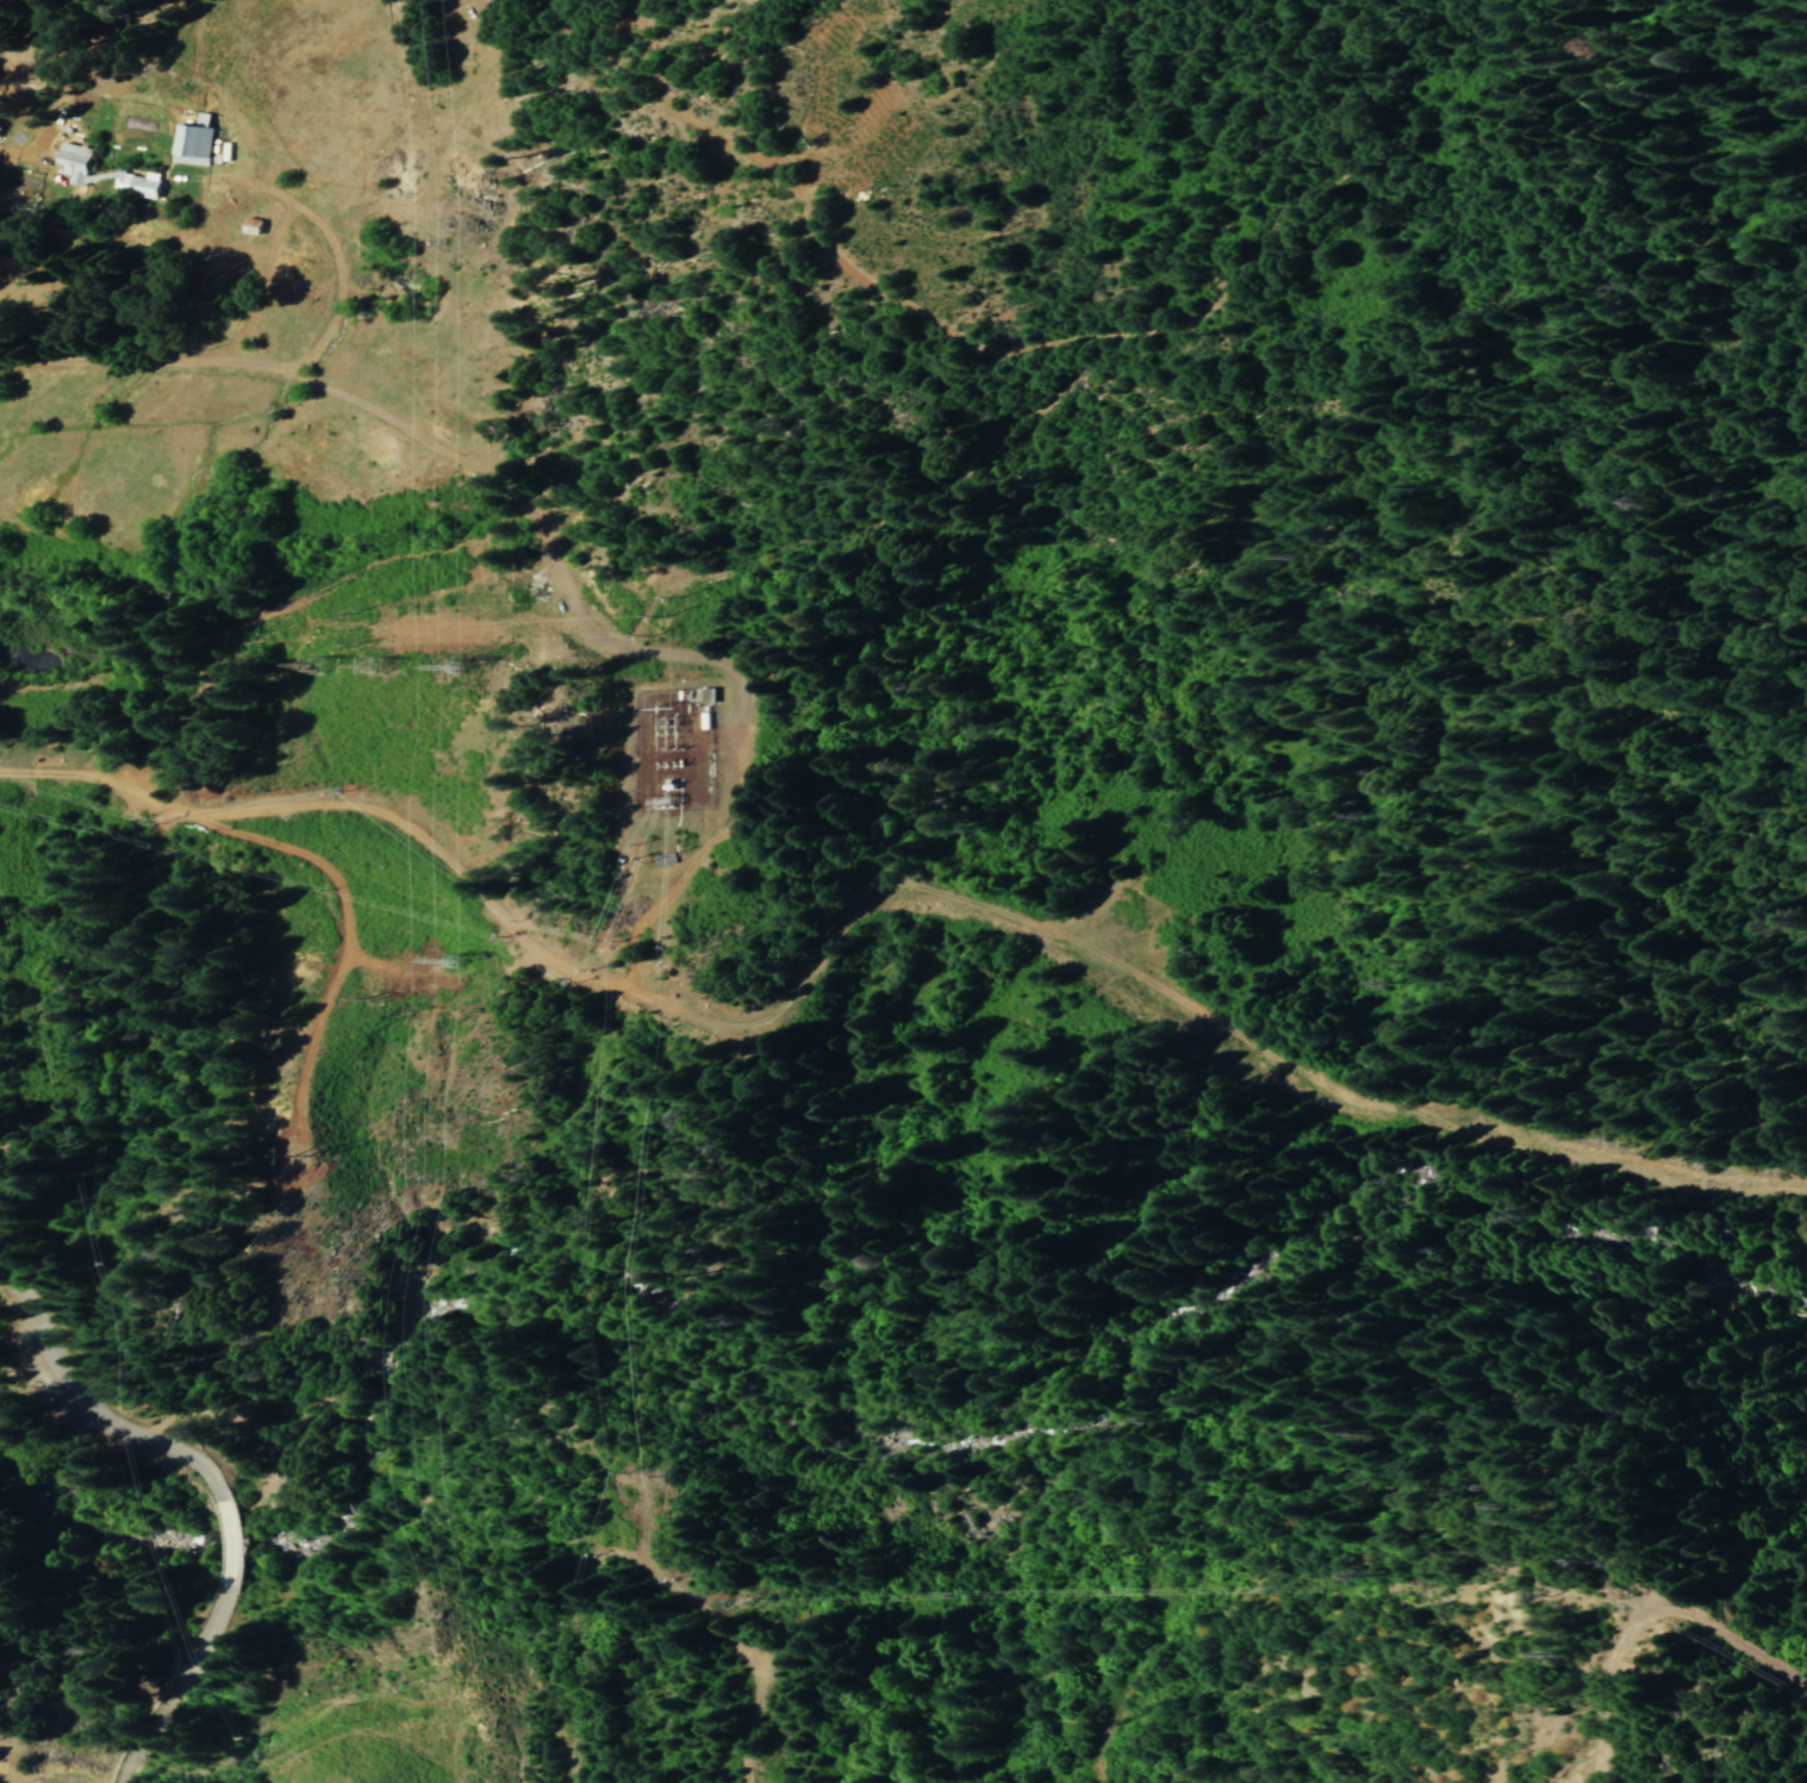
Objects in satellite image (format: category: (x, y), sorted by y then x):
building: (192, 141)
building: (74, 162)
building: (138, 183)
building: (250, 226)
road: (1022, 363)
power tower: (311, 667)
power tower: (370, 669)
power tower: (449, 673)
building: (702, 696)
power substation: (668, 750)
power tower: (449, 964)
power tower: (372, 1003)
road: (280, 1489)

